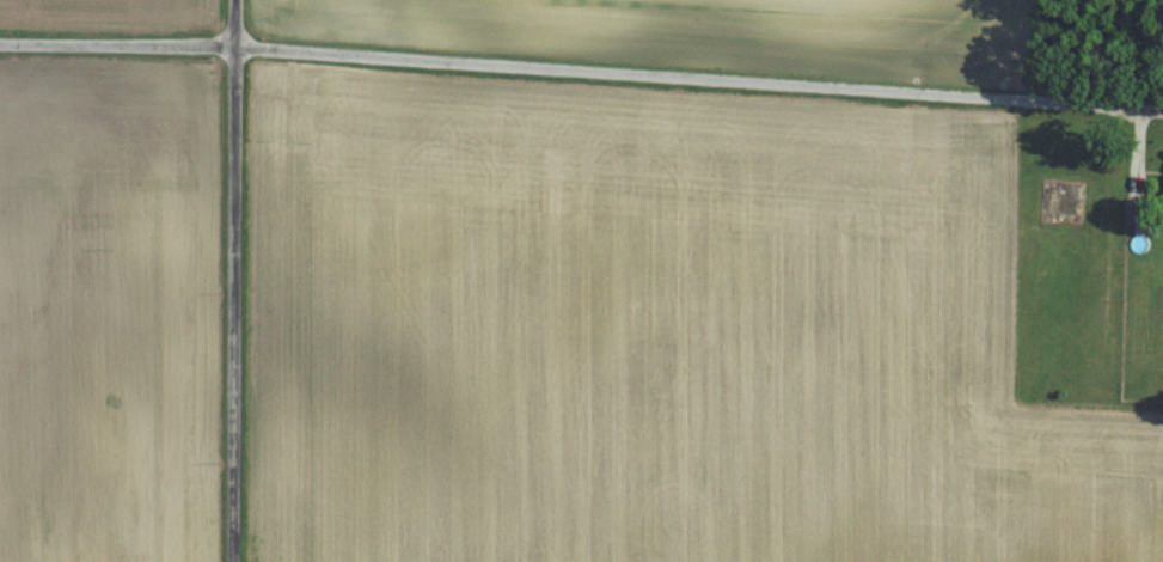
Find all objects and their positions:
road: (581, 96)
building: (1071, 201)
building: (1137, 210)
road: (237, 281)

